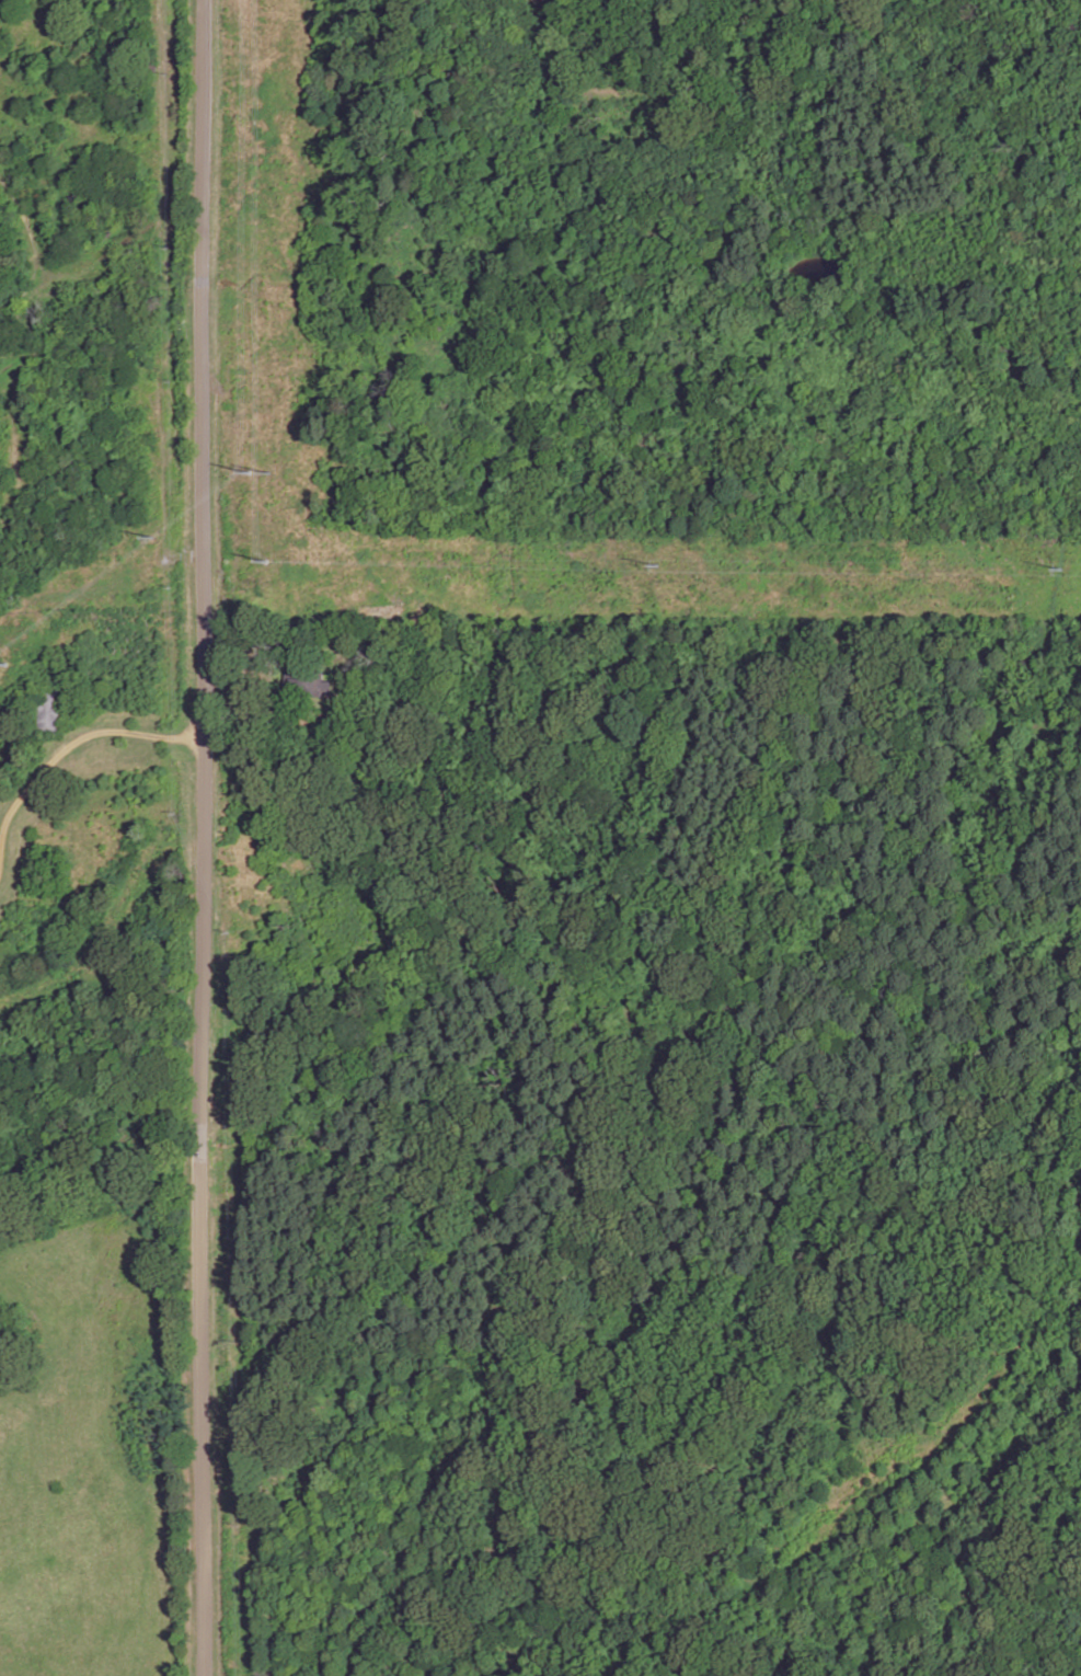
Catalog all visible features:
building: (44, 711)
road: (81, 737)
road: (200, 837)

